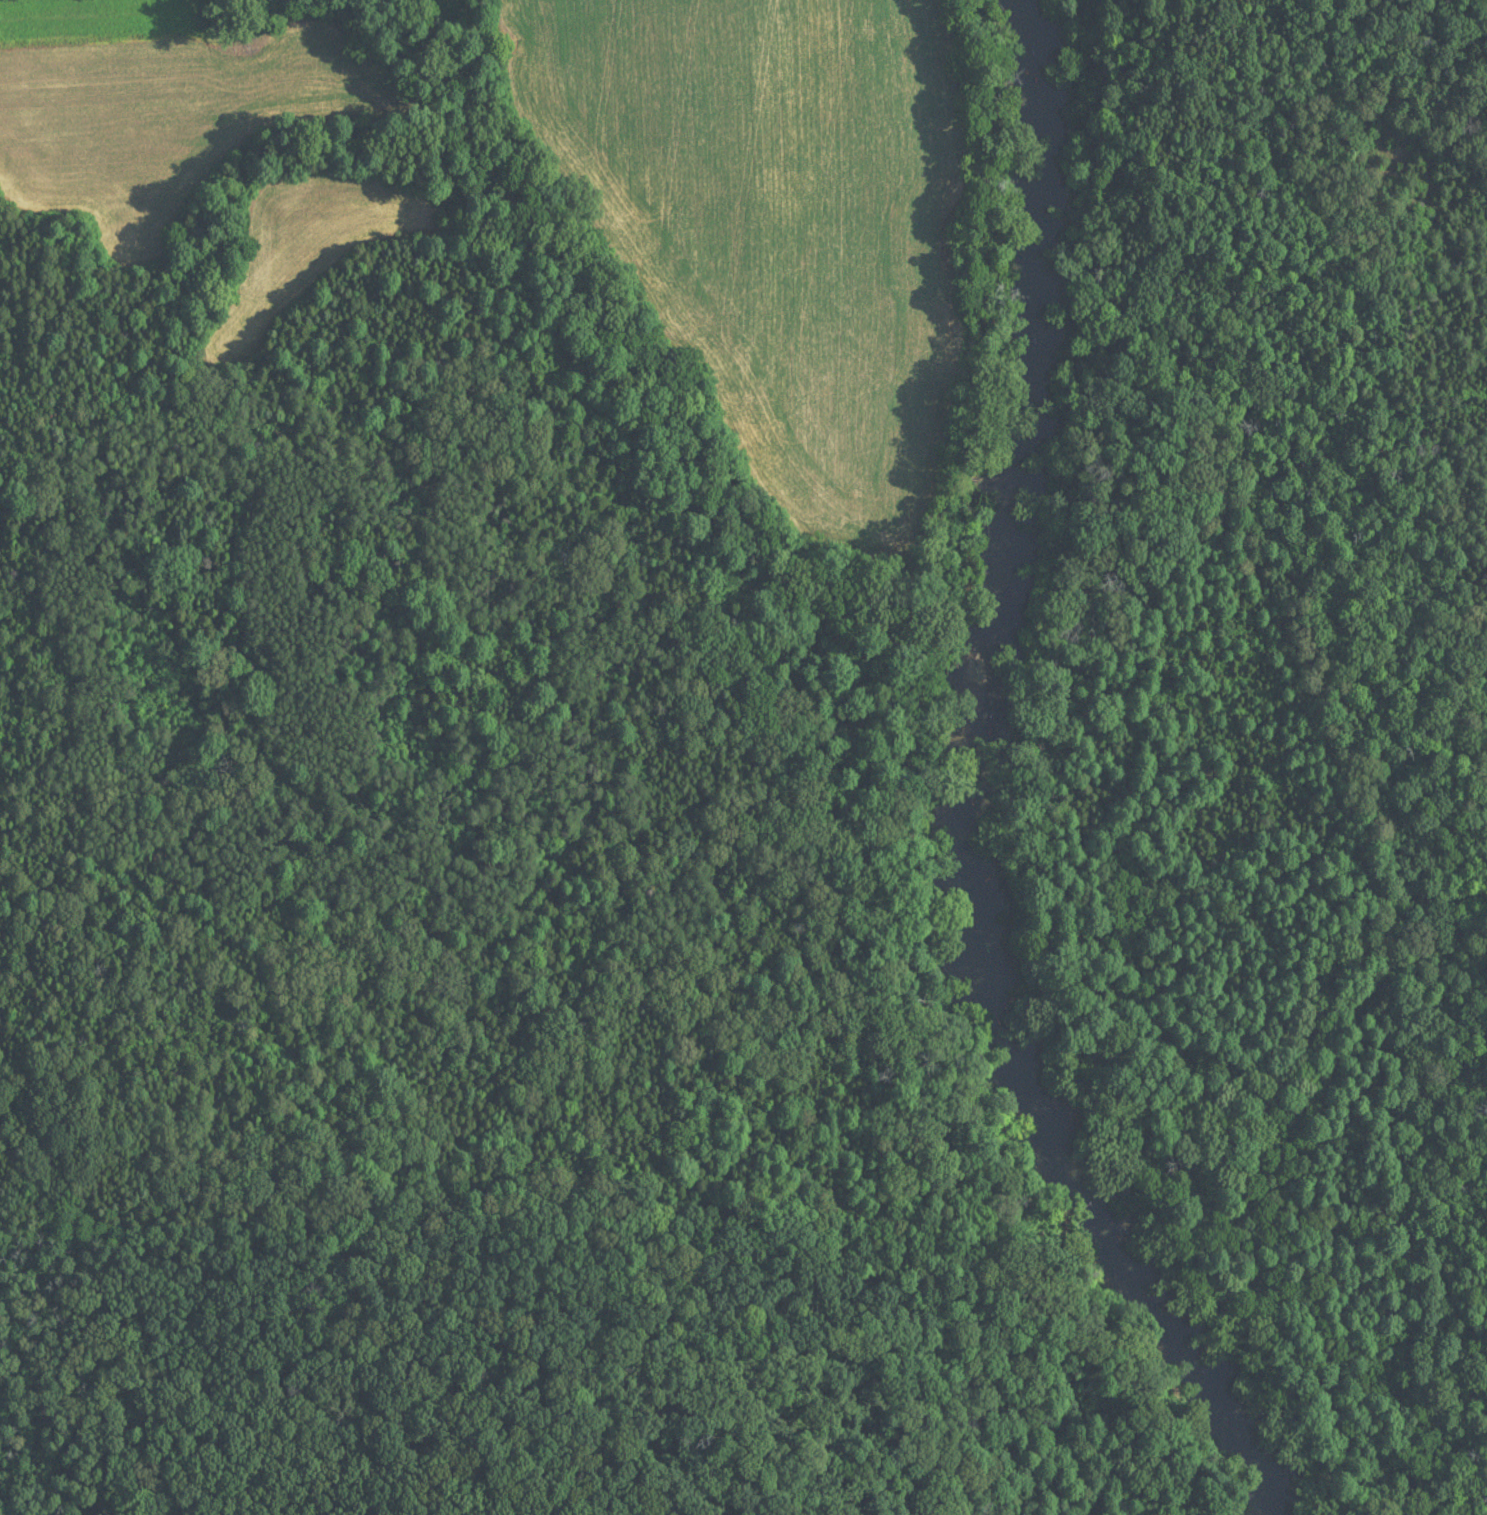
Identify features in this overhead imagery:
river: (981, 797)

